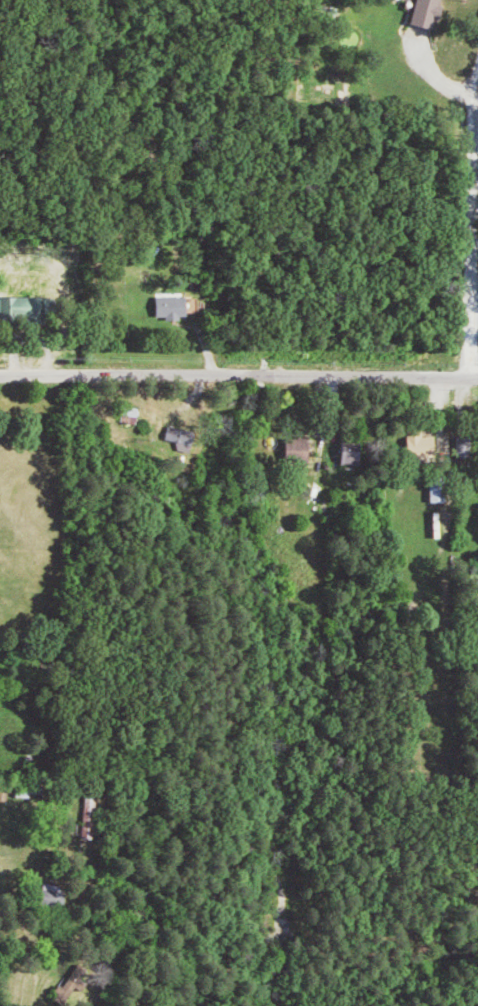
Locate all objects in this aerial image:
building: (427, 13)
road: (467, 224)
building: (24, 307)
building: (173, 307)
road: (238, 374)
building: (134, 414)
building: (182, 434)
building: (422, 443)
building: (186, 446)
building: (299, 450)
building: (356, 450)
building: (441, 489)
building: (441, 525)
building: (93, 816)
building: (56, 893)
road: (26, 929)
building: (81, 976)

